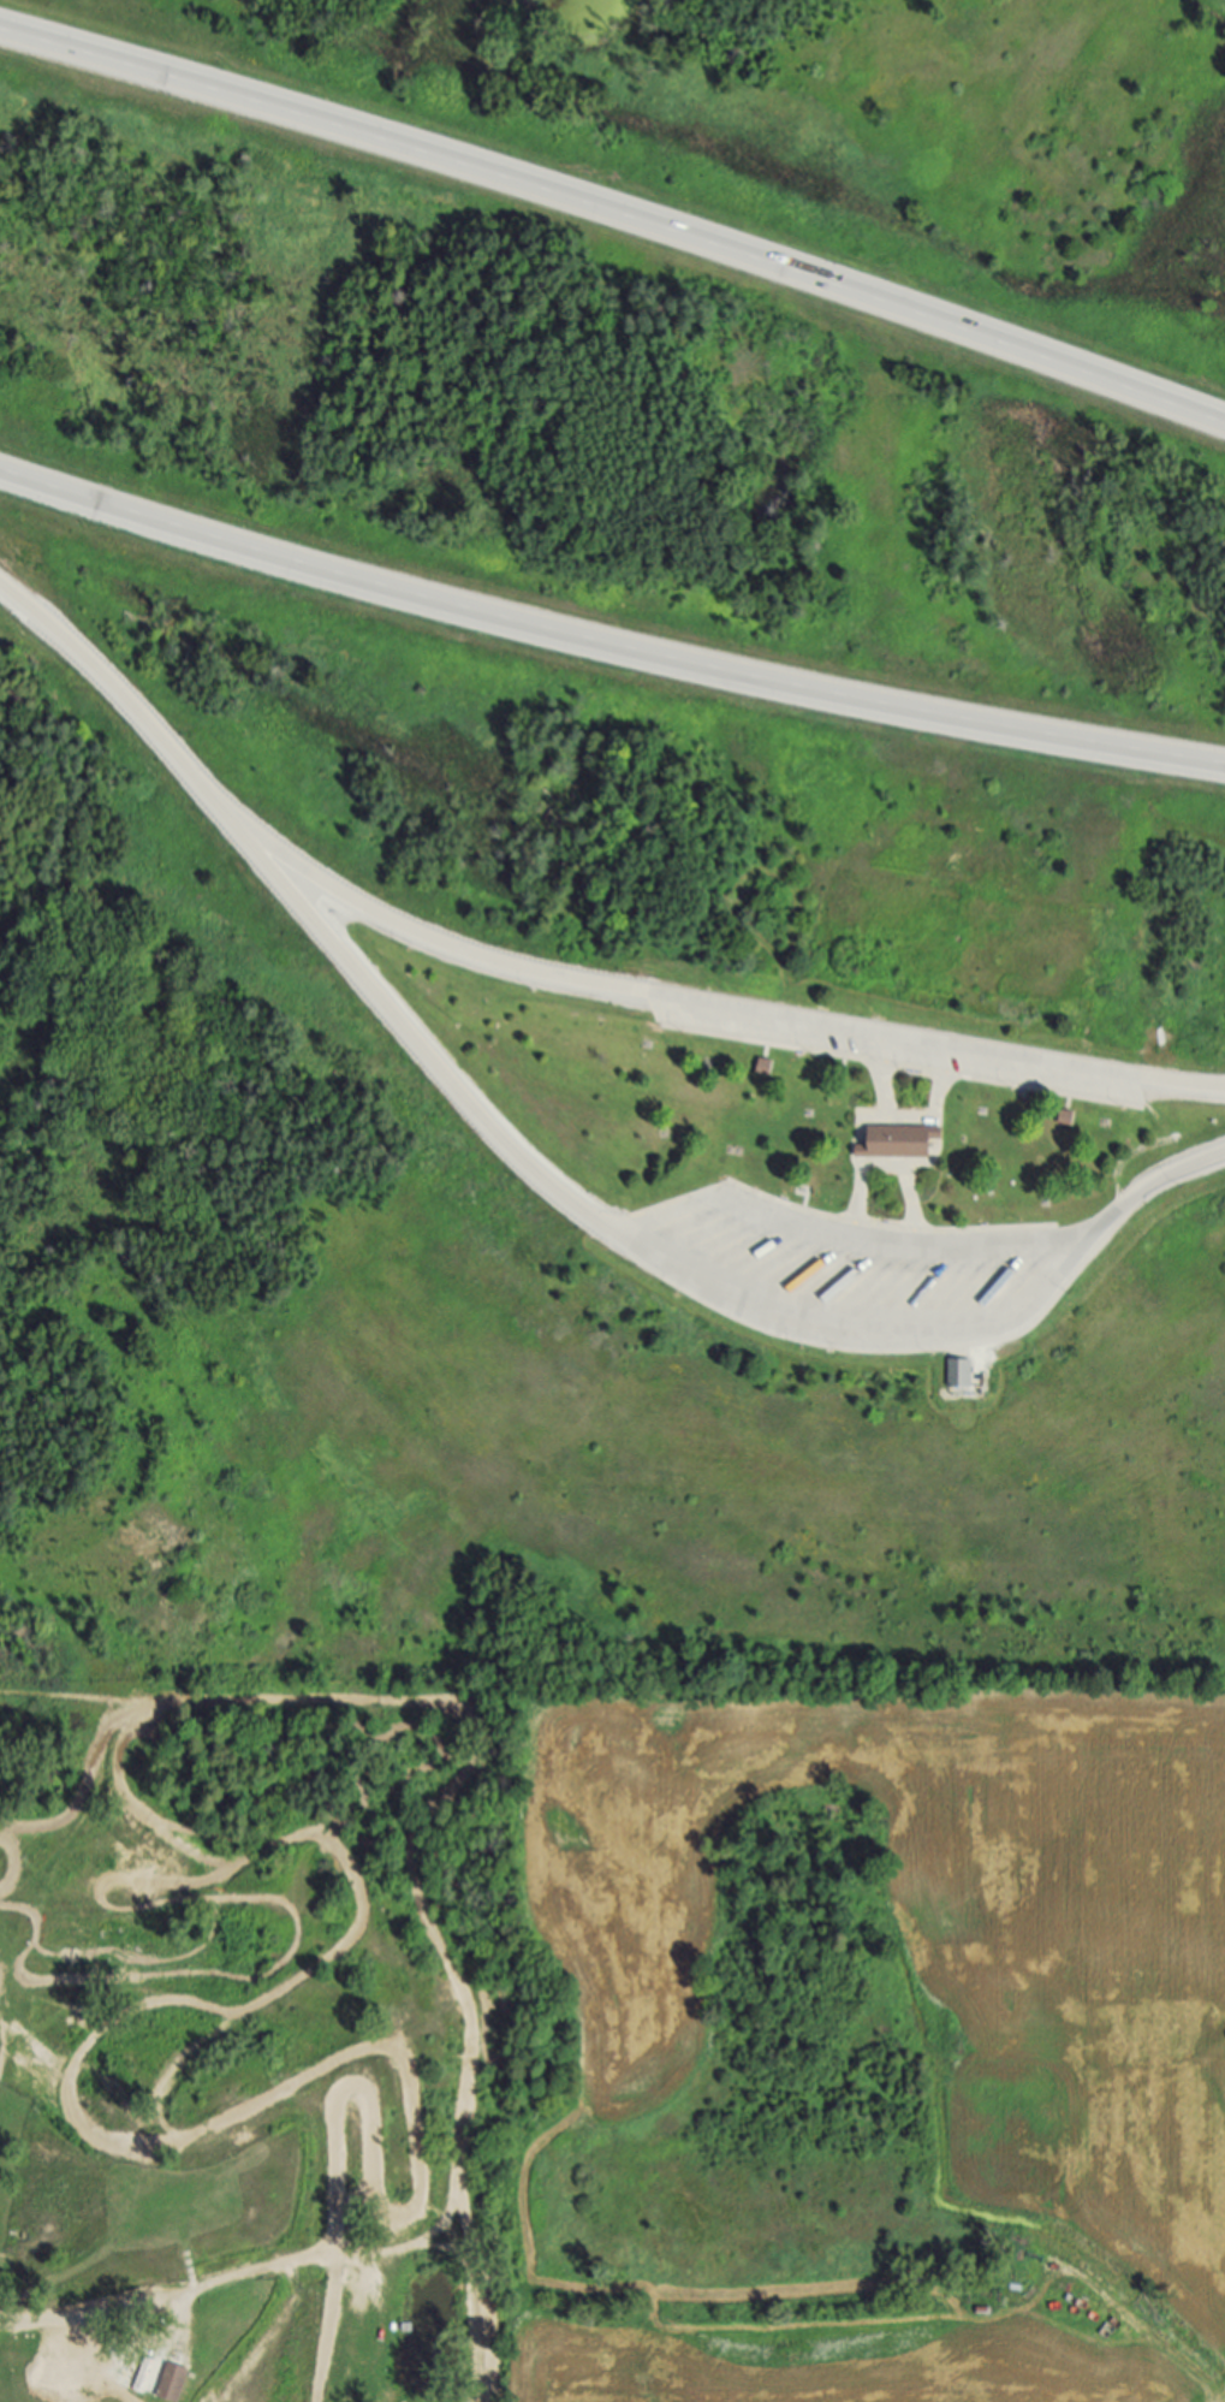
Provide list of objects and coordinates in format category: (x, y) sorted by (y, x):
road: (617, 207)
road: (606, 634)
road: (131, 699)
road: (722, 1009)
parking lot: (914, 1061)
building: (904, 1140)
road: (755, 1199)
road: (1011, 1236)
parking lot: (861, 1269)
road: (682, 1271)
building: (961, 1374)
building: (176, 2383)
road: (1221, 2397)

